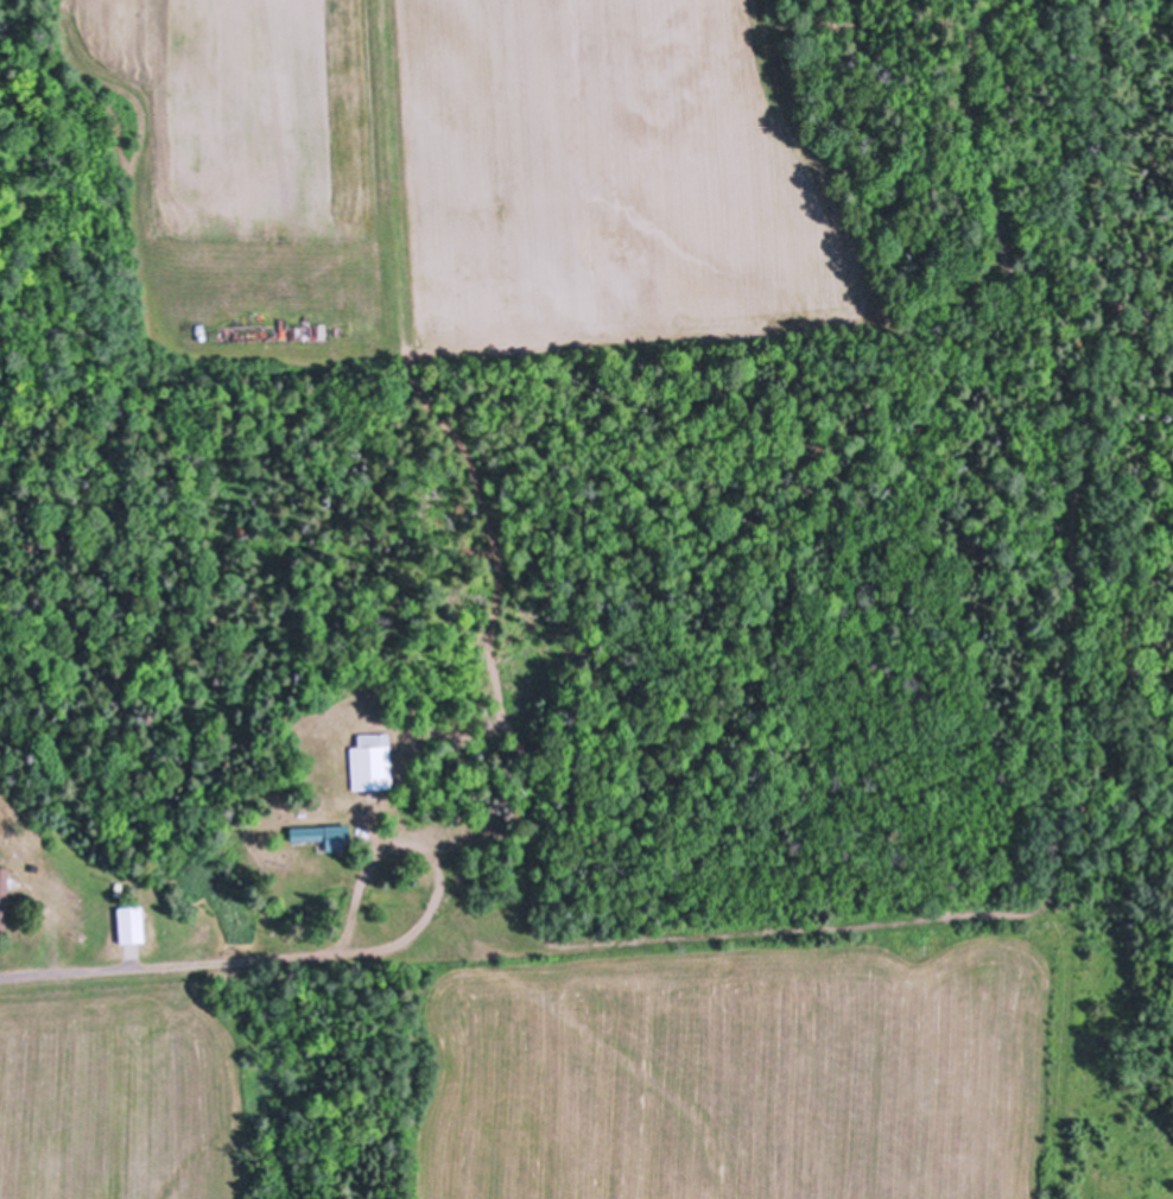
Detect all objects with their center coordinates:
building: (370, 760)
building: (323, 833)
building: (2, 894)
building: (129, 922)
road: (419, 930)
road: (169, 964)

